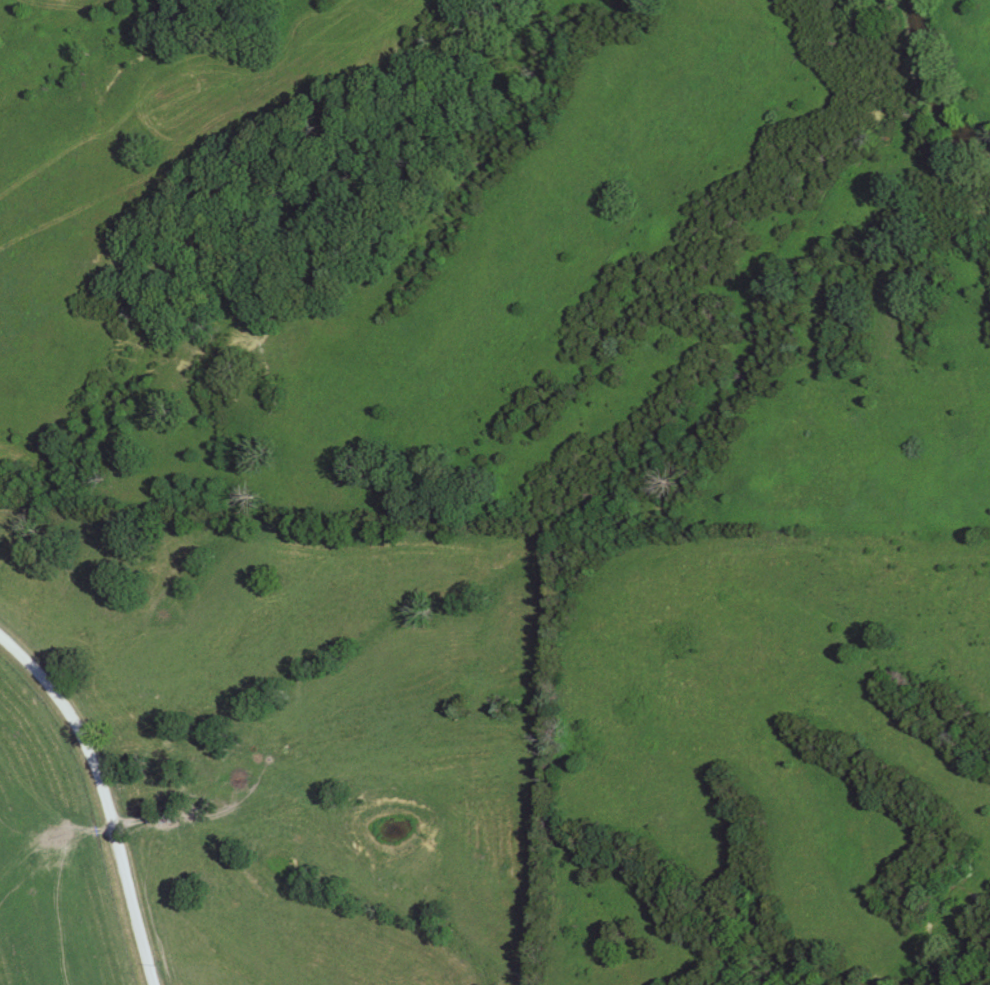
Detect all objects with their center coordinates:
road: (104, 799)

